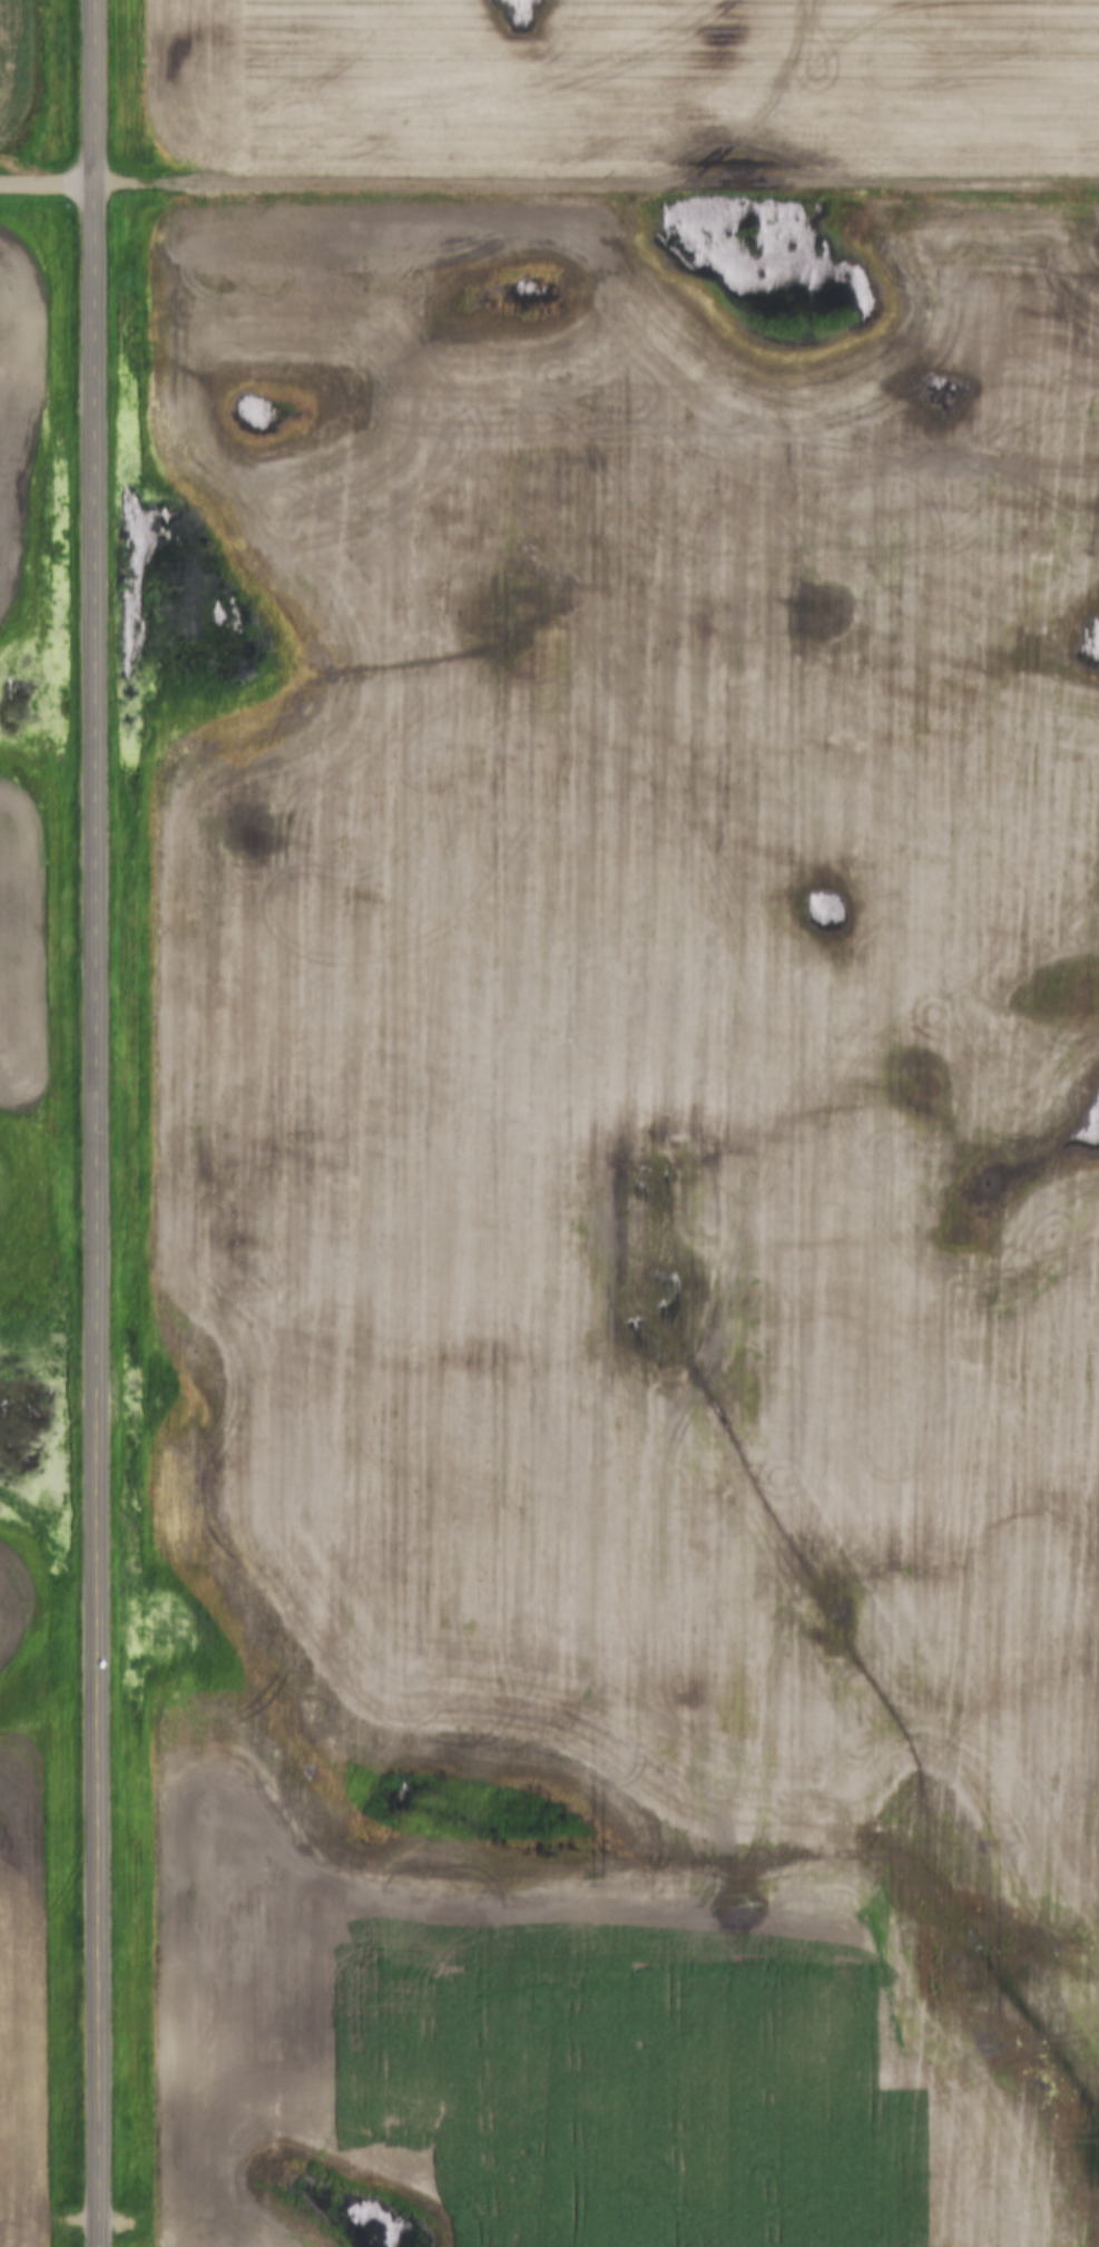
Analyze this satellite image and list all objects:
road: (47, 187)
road: (96, 1123)

